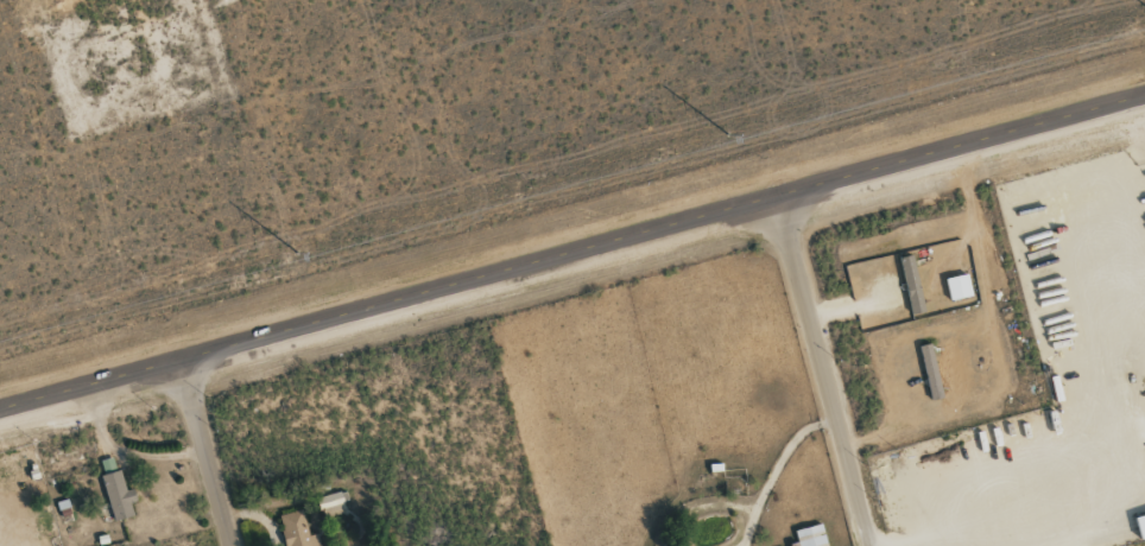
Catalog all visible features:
power tower: (728, 133)
power tower: (296, 252)
road: (571, 253)
building: (909, 284)
building: (956, 286)
road: (823, 372)
building: (928, 372)
road: (208, 453)
building: (116, 495)
building: (328, 501)
building: (1139, 526)
building: (296, 531)
building: (809, 535)

